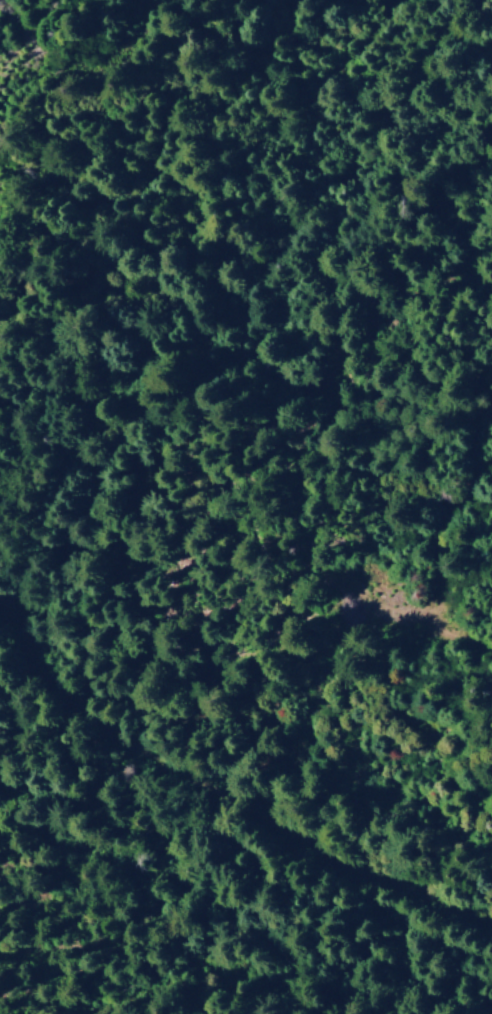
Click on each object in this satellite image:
road: (230, 809)

